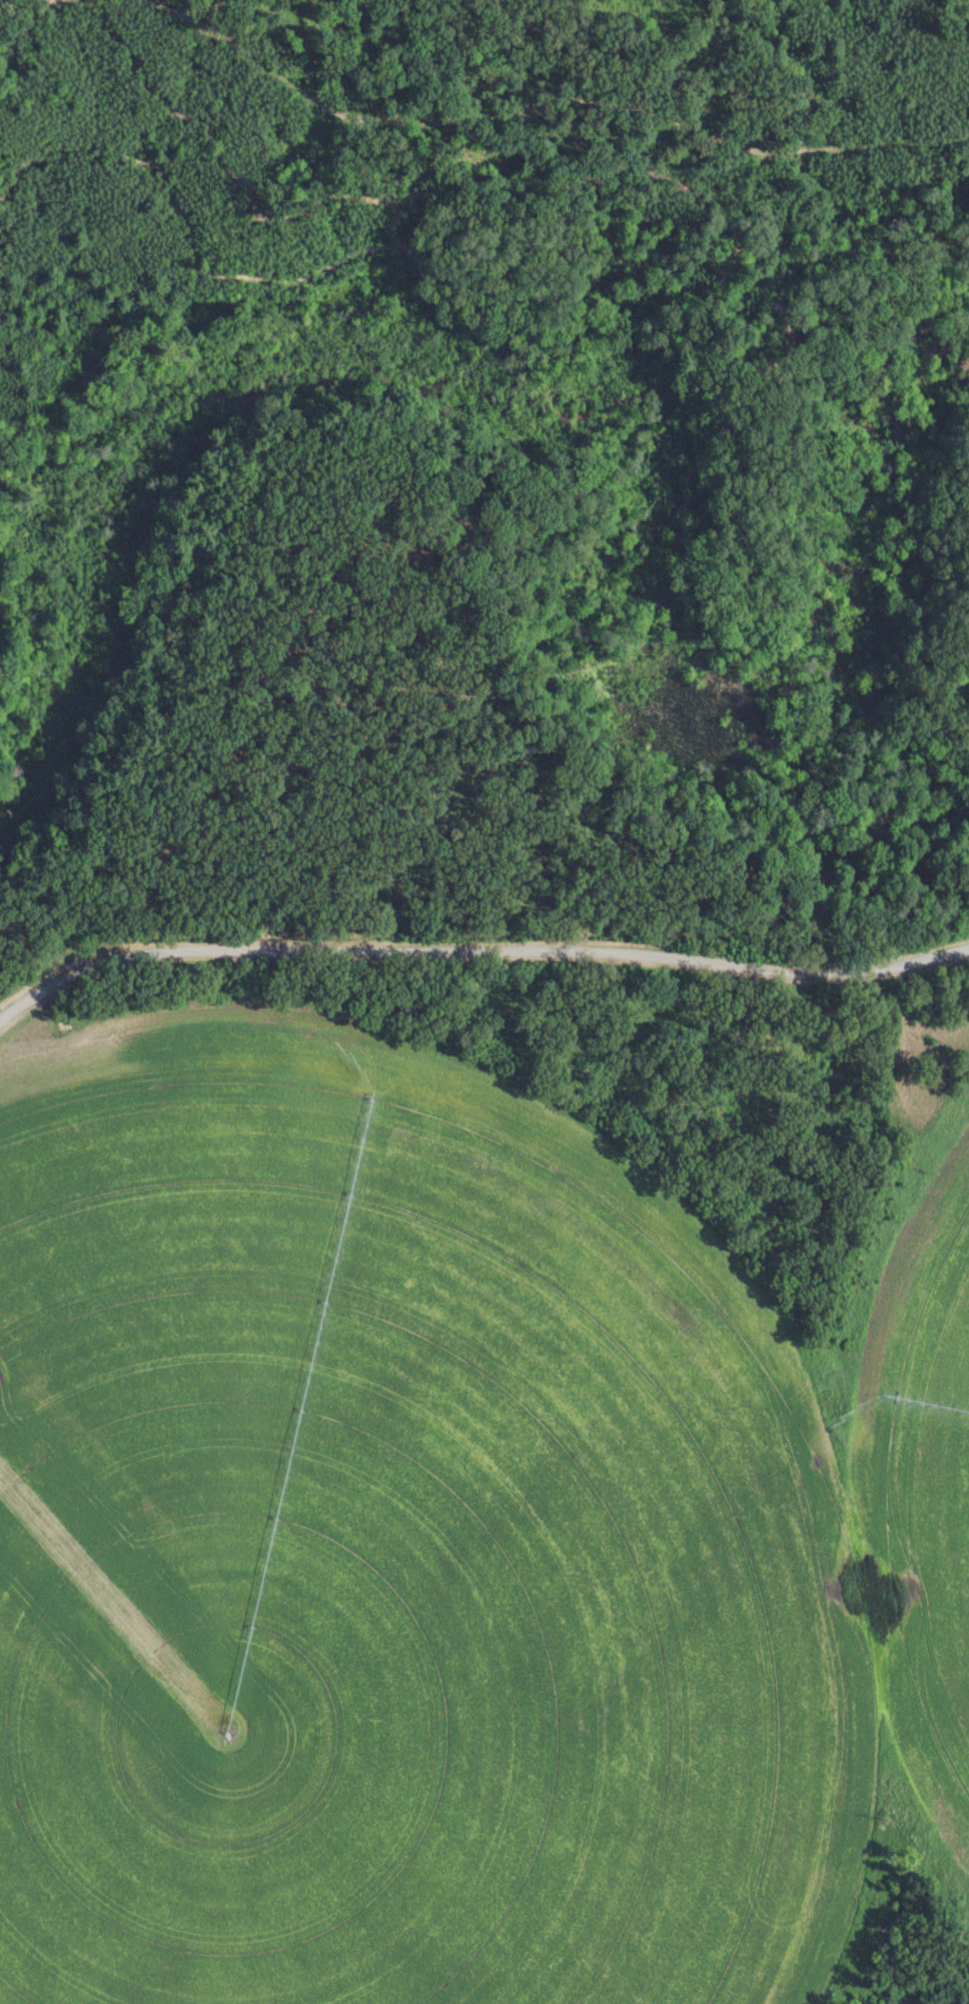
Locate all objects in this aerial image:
road: (34, 34)
road: (554, 104)
road: (853, 217)
road: (786, 225)
road: (749, 346)
road: (469, 520)
road: (963, 654)
road: (432, 811)
road: (479, 943)
wastewater plant: (489, 1477)

